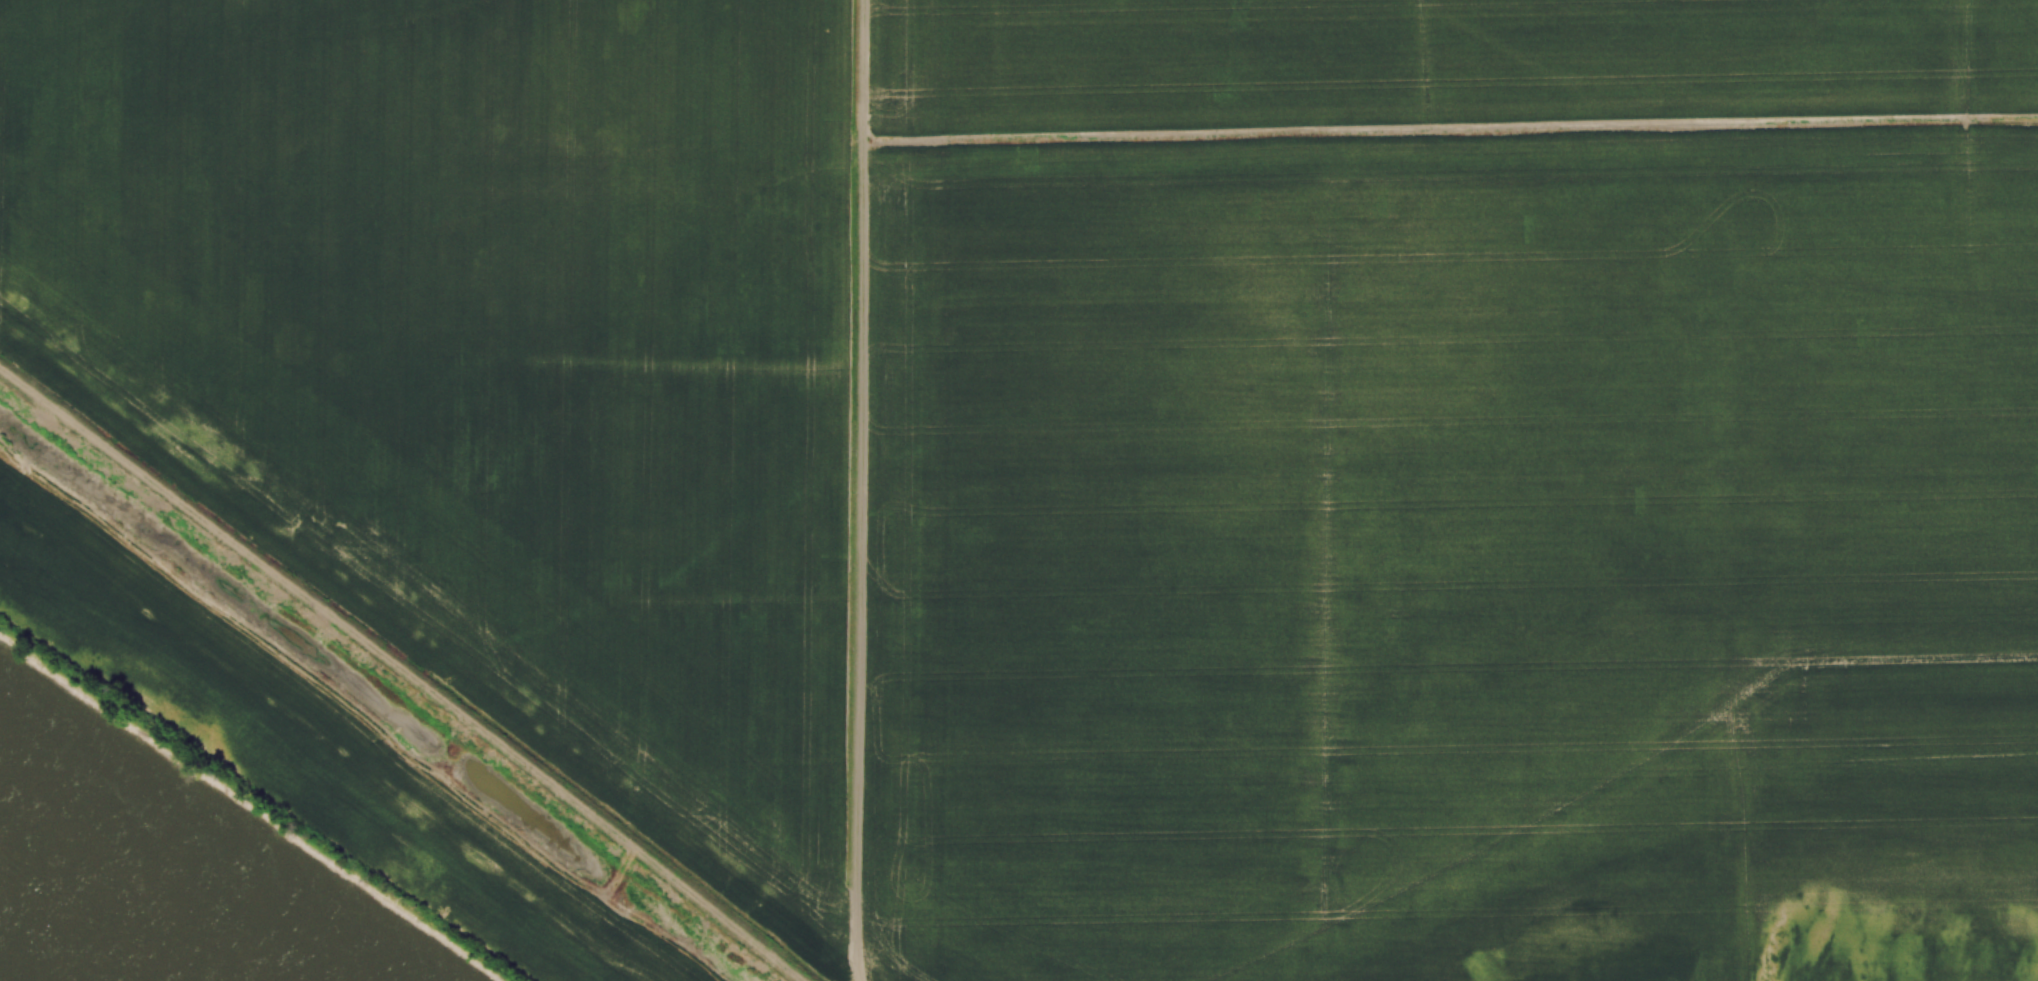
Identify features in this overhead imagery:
river: (43, 957)

